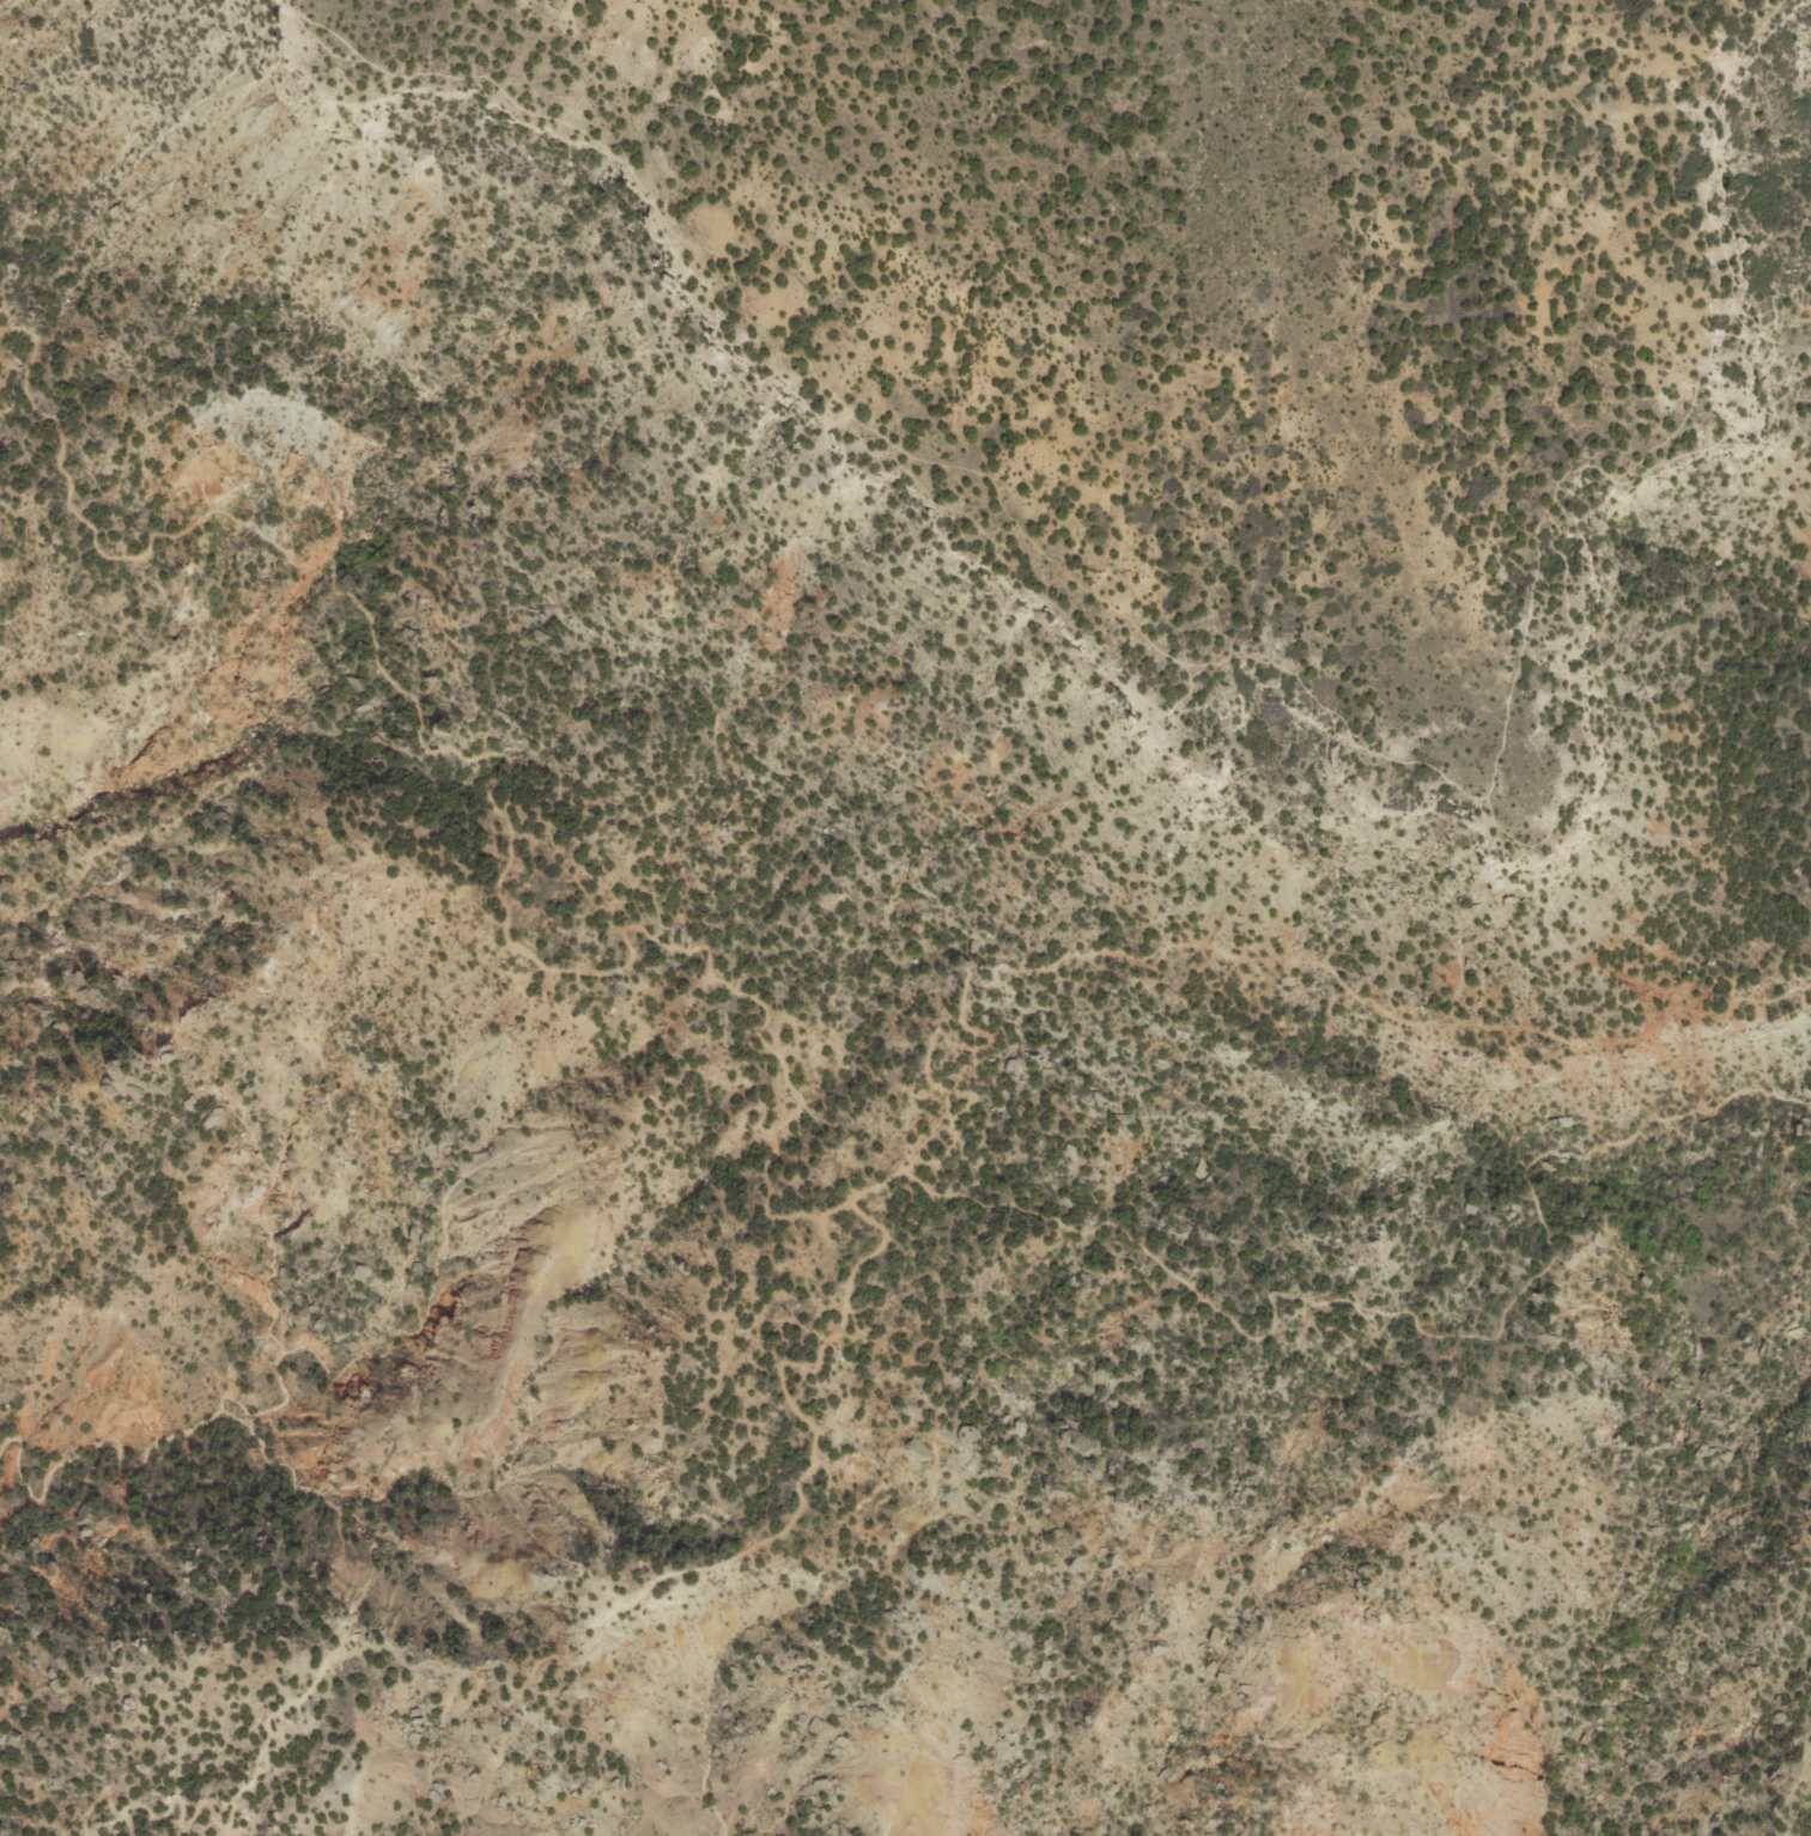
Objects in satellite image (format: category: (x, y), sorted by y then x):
road: (1320, 378)
road: (1271, 661)
road: (1221, 948)
road: (791, 1108)
road: (569, 1656)

